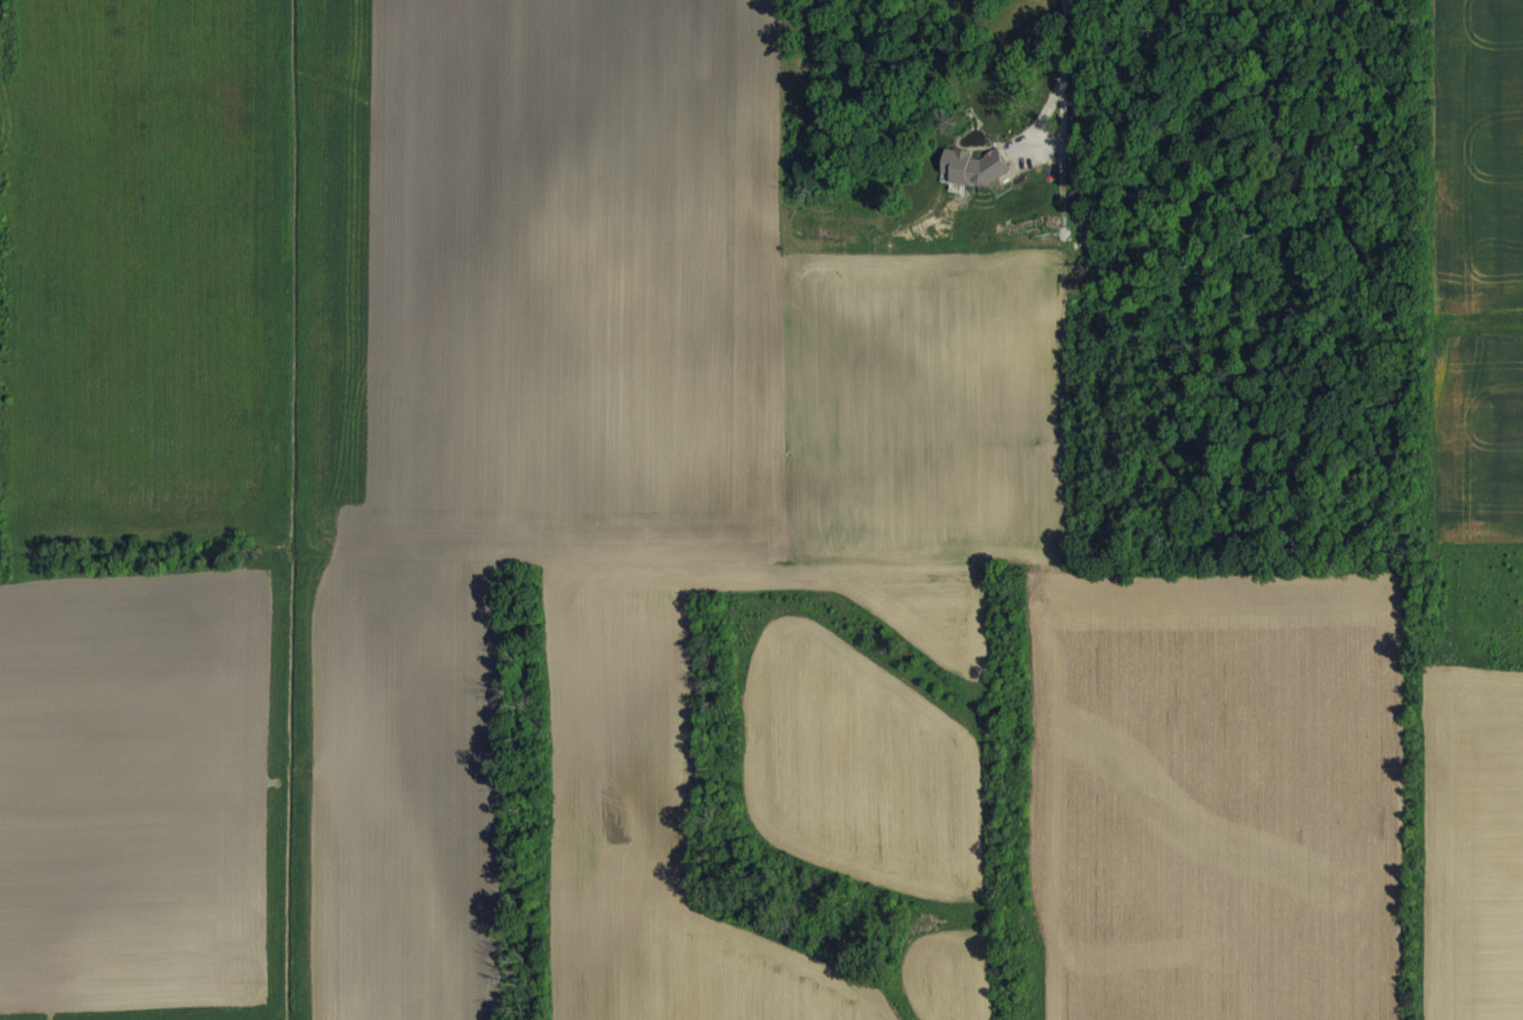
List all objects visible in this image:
road: (1068, 68)

